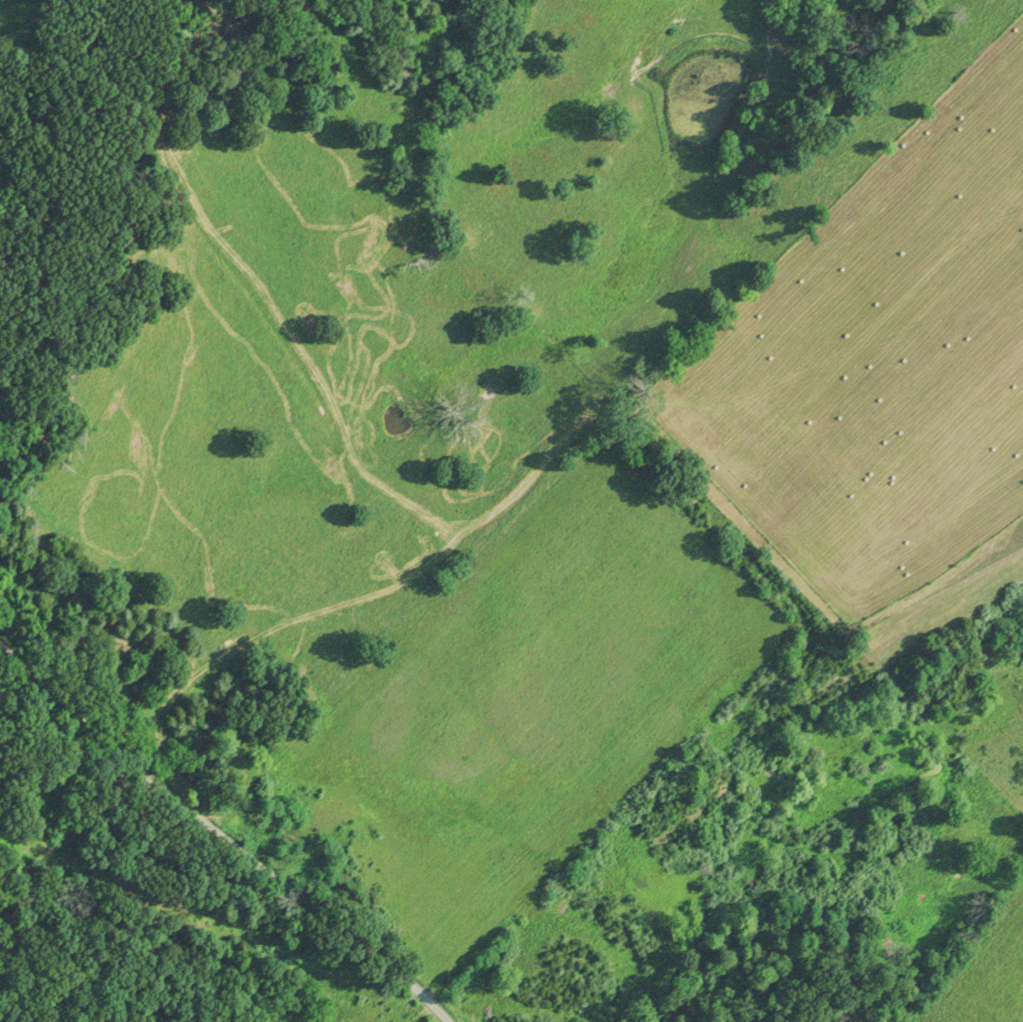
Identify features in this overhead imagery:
road: (224, 820)

